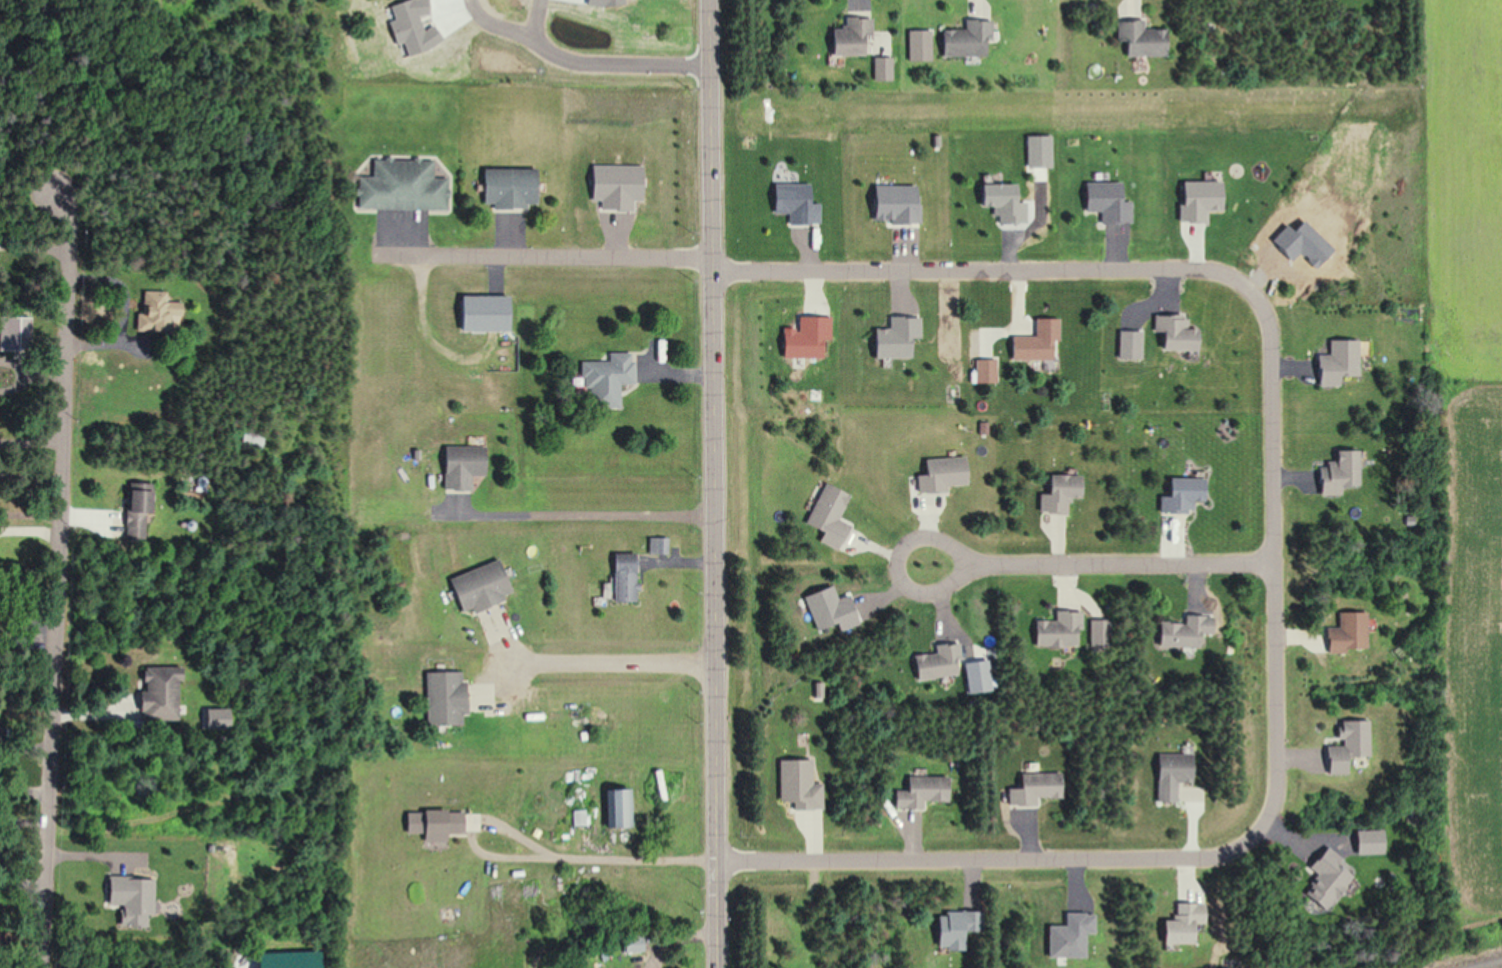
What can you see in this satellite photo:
road: (517, 31)
building: (849, 37)
building: (966, 39)
building: (1140, 39)
road: (619, 63)
building: (881, 68)
building: (399, 184)
crop: (1466, 184)
building: (504, 187)
road: (542, 257)
building: (151, 312)
building: (479, 312)
building: (1172, 333)
building: (1030, 340)
building: (602, 379)
building: (250, 438)
building: (457, 466)
building: (1338, 472)
building: (938, 474)
road: (714, 483)
building: (1057, 493)
building: (1177, 499)
building: (131, 513)
road: (0, 526)
road: (33, 526)
road: (0, 527)
road: (893, 564)
road: (1123, 564)
road: (1275, 564)
road: (64, 573)
building: (621, 579)
building: (475, 587)
building: (1055, 630)
building: (1346, 632)
building: (1178, 633)
airport: (1469, 644)
building: (936, 662)
road: (604, 666)
building: (155, 693)
building: (441, 697)
building: (1170, 774)
building: (658, 784)
road: (27, 786)
building: (1034, 788)
building: (919, 791)
building: (616, 807)
road: (26, 815)
building: (431, 823)
road: (543, 844)
building: (632, 944)
railway: (1500, 967)

